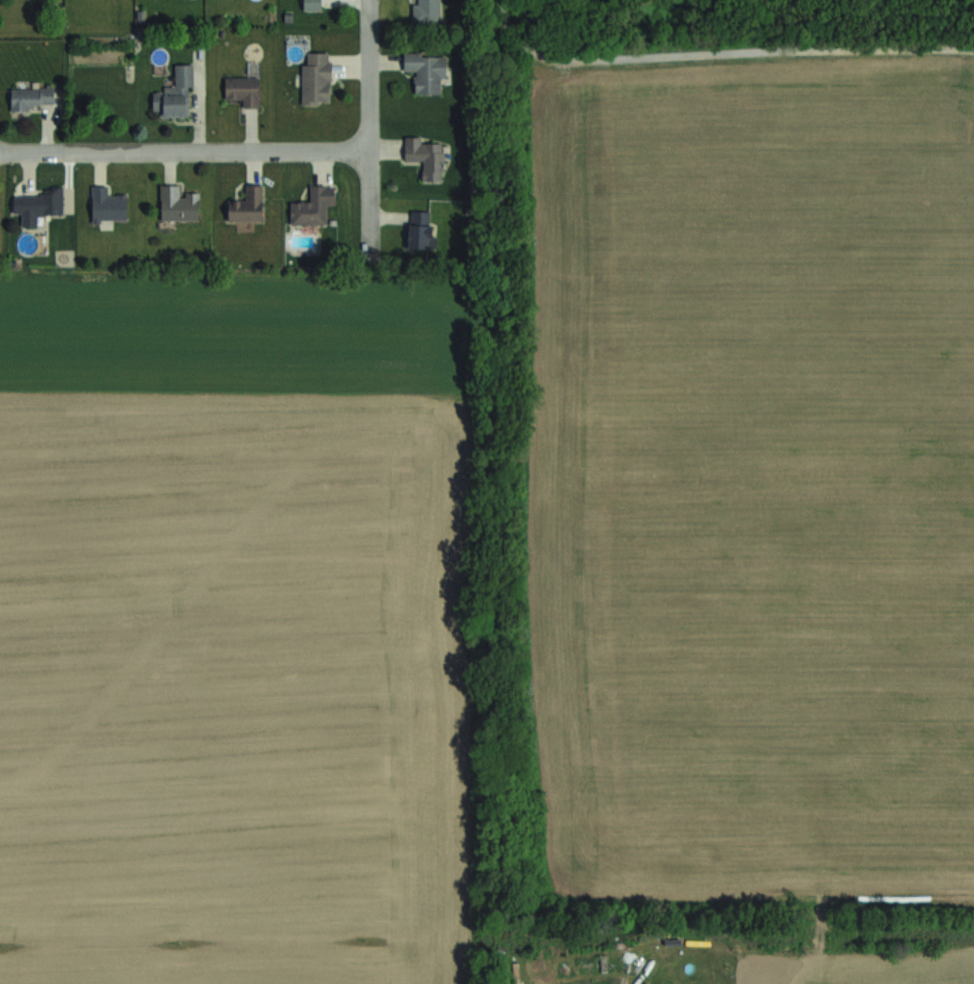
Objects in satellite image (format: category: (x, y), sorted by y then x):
building: (312, 4)
building: (426, 10)
building: (426, 71)
building: (316, 77)
building: (243, 89)
building: (175, 94)
building: (32, 97)
road: (373, 122)
road: (187, 152)
building: (426, 156)
building: (178, 203)
building: (108, 204)
building: (247, 204)
building: (38, 205)
building: (312, 205)
building: (420, 229)
crop: (233, 639)
crop: (873, 967)

